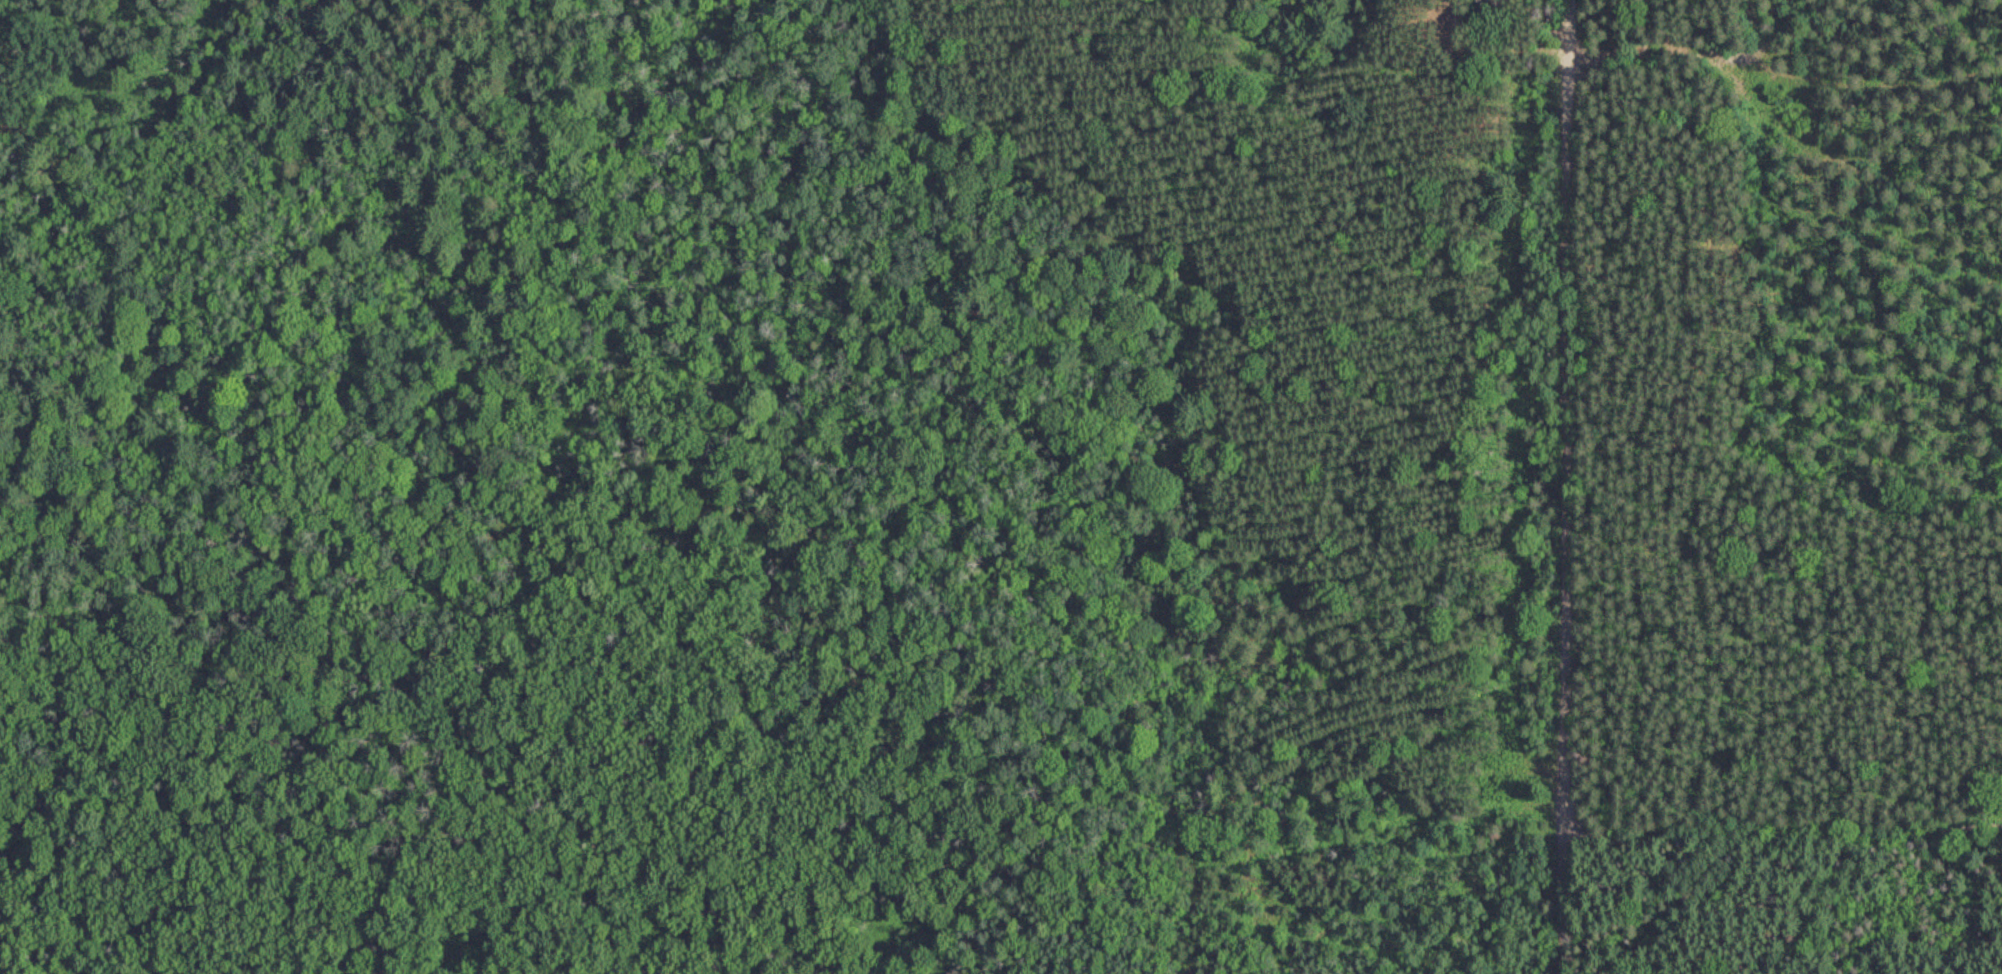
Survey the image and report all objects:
road: (1556, 487)

